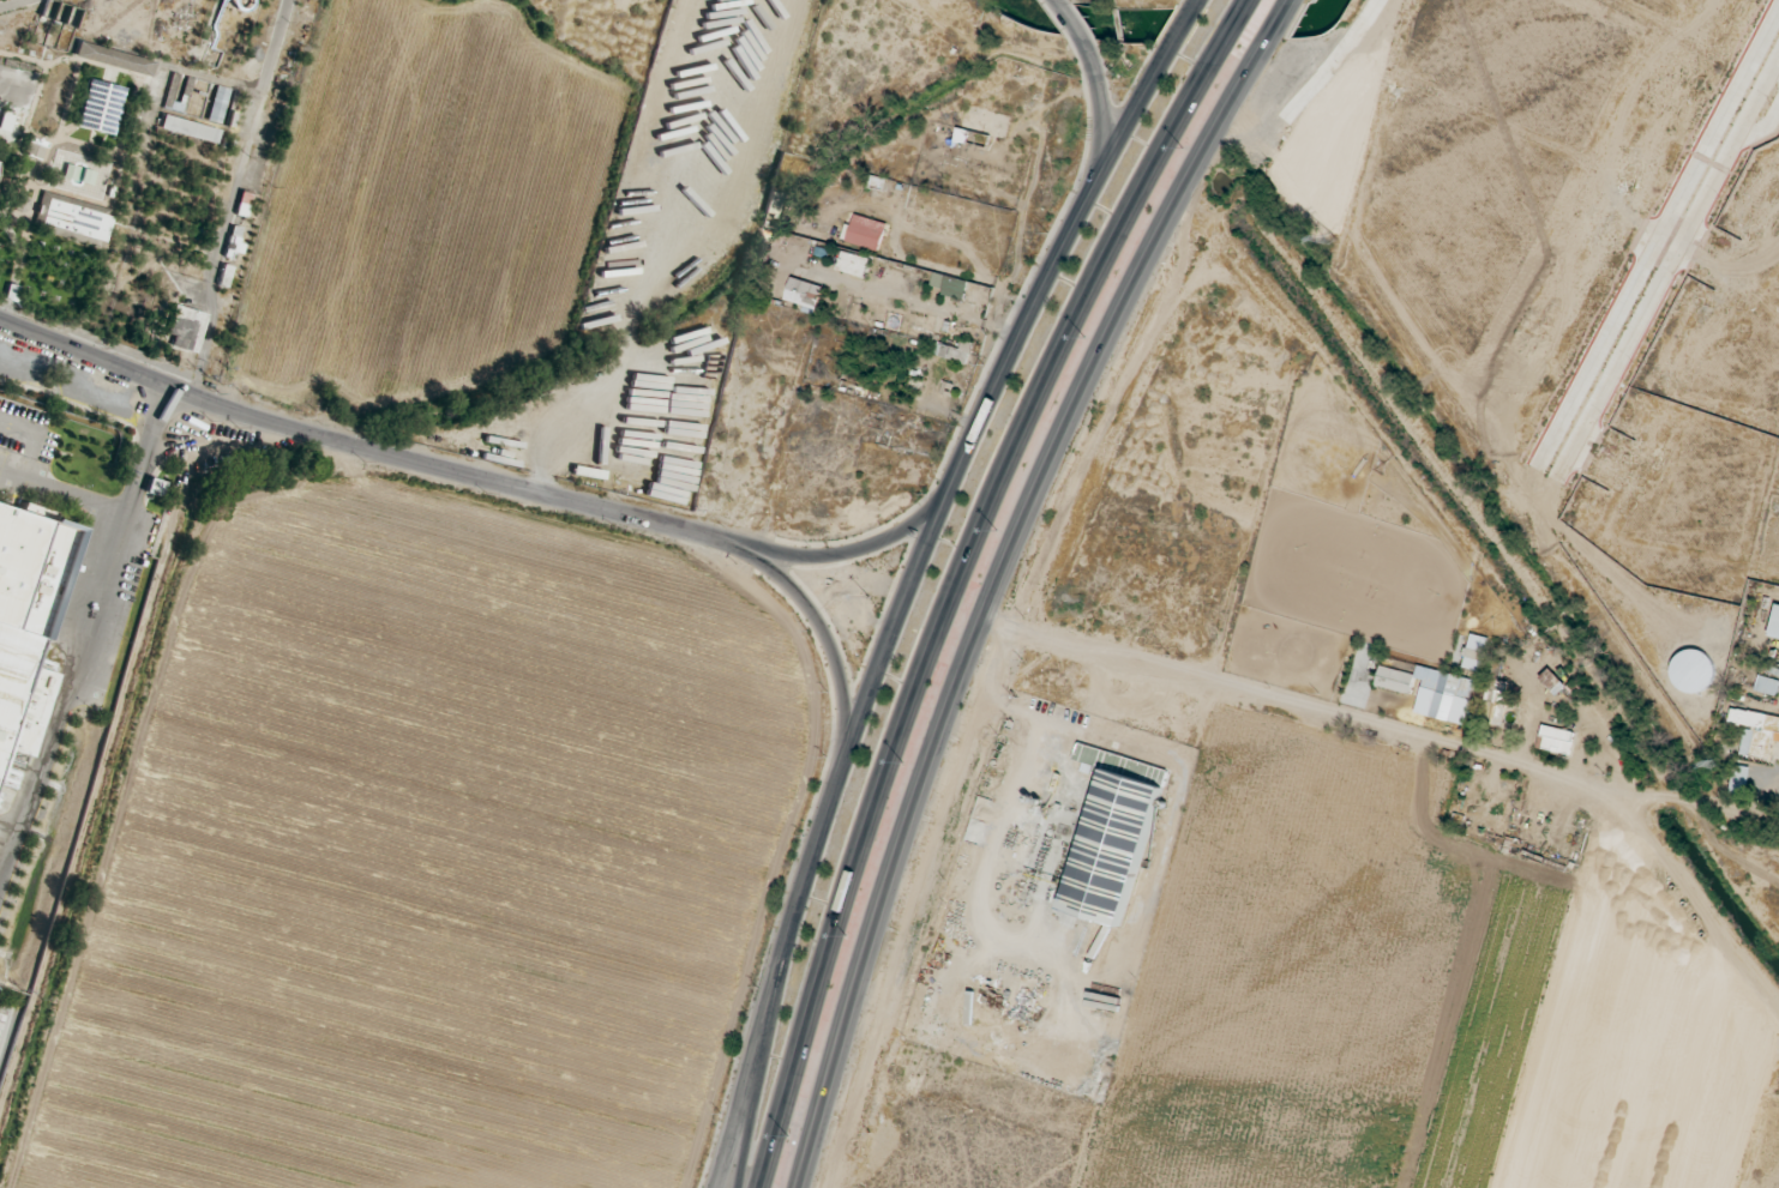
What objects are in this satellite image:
road: (1278, 1)
road: (1240, 2)
road: (1190, 4)
power tower: (1332, 240)
road: (1678, 795)

